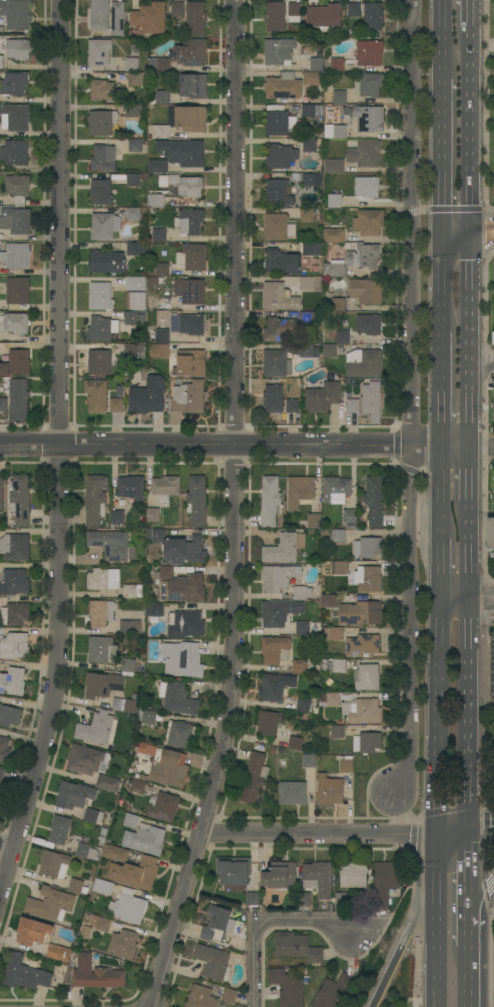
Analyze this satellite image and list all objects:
building: (178, 9)
building: (354, 10)
building: (294, 12)
road: (473, 13)
building: (16, 14)
building: (99, 14)
building: (275, 16)
building: (373, 16)
building: (324, 17)
building: (150, 18)
building: (195, 18)
building: (117, 19)
road: (444, 39)
building: (18, 49)
building: (278, 51)
building: (99, 52)
building: (190, 53)
building: (369, 53)
building: (2, 63)
building: (131, 64)
building: (317, 64)
building: (163, 65)
building: (337, 65)
building: (134, 79)
building: (313, 79)
building: (14, 84)
building: (369, 85)
building: (193, 86)
building: (283, 86)
building: (102, 90)
building: (162, 97)
building: (339, 97)
building: (132, 110)
building: (308, 111)
building: (15, 117)
building: (191, 119)
building: (369, 119)
building: (102, 123)
building: (279, 123)
road: (473, 123)
building: (335, 131)
building: (160, 132)
building: (136, 145)
building: (309, 145)
road: (443, 150)
building: (14, 152)
building: (182, 152)
building: (365, 154)
building: (281, 156)
building: (103, 158)
building: (158, 166)
building: (334, 166)
building: (133, 180)
building: (312, 180)
building: (182, 185)
building: (367, 187)
building: (17, 188)
building: (101, 192)
building: (278, 193)
building: (156, 200)
building: (334, 201)
building: (133, 214)
building: (306, 215)
building: (16, 221)
road: (458, 221)
road: (483, 221)
building: (189, 222)
building: (369, 222)
building: (105, 226)
building: (278, 228)
road: (443, 230)
road: (473, 231)
building: (158, 235)
building: (334, 235)
road: (458, 240)
road: (483, 241)
building: (136, 249)
building: (312, 249)
building: (15, 256)
building: (191, 258)
building: (353, 260)
building: (107, 262)
building: (281, 262)
building: (162, 270)
building: (136, 283)
building: (306, 283)
road: (443, 286)
building: (18, 291)
building: (190, 291)
building: (366, 291)
building: (100, 296)
building: (278, 297)
building: (136, 301)
building: (160, 304)
building: (338, 305)
building: (134, 318)
building: (307, 318)
building: (16, 323)
building: (175, 323)
building: (368, 324)
building: (192, 325)
building: (102, 329)
building: (279, 329)
building: (162, 336)
building: (343, 338)
building: (493, 338)
road: (472, 343)
building: (132, 350)
building: (159, 351)
building: (329, 351)
building: (285, 359)
road: (483, 360)
building: (100, 362)
building: (16, 363)
building: (190, 363)
building: (364, 363)
road: (443, 390)
building: (120, 391)
parking lot: (493, 391)
building: (96, 395)
building: (149, 396)
building: (322, 397)
road: (412, 397)
building: (188, 398)
building: (273, 399)
building: (18, 400)
building: (366, 401)
building: (3, 405)
building: (116, 405)
building: (292, 406)
road: (235, 446)
road: (483, 446)
road: (60, 452)
road: (472, 480)
building: (166, 486)
building: (131, 487)
building: (336, 490)
building: (300, 491)
building: (1, 493)
road: (442, 493)
building: (20, 500)
building: (95, 500)
building: (196, 501)
building: (270, 501)
building: (374, 501)
road: (233, 508)
road: (483, 513)
building: (152, 515)
building: (116, 518)
building: (350, 518)
building: (314, 520)
building: (156, 535)
building: (490, 535)
building: (338, 536)
building: (352, 536)
building: (110, 544)
building: (15, 547)
building: (367, 547)
building: (284, 548)
building: (184, 551)
road: (471, 556)
building: (341, 568)
road: (442, 569)
building: (166, 572)
building: (278, 577)
building: (103, 579)
building: (368, 579)
building: (16, 582)
building: (183, 588)
building: (132, 591)
building: (302, 593)
road: (468, 599)
building: (155, 609)
building: (353, 611)
building: (279, 612)
building: (101, 613)
building: (15, 614)
building: (134, 614)
building: (190, 624)
building: (130, 628)
building: (302, 628)
building: (333, 634)
building: (14, 646)
building: (362, 646)
building: (273, 649)
building: (102, 650)
building: (182, 659)
building: (338, 665)
building: (127, 667)
building: (299, 667)
building: (324, 667)
building: (366, 677)
building: (12, 681)
building: (102, 685)
building: (276, 687)
building: (177, 699)
building: (330, 699)
building: (303, 706)
building: (130, 707)
building: (362, 711)
building: (8, 715)
road: (468, 715)
building: (148, 717)
road: (438, 717)
building: (268, 723)
building: (95, 728)
building: (337, 732)
building: (280, 734)
building: (180, 735)
building: (285, 742)
building: (274, 743)
building: (295, 743)
building: (367, 743)
building: (143, 749)
building: (4, 750)
building: (273, 751)
building: (87, 760)
building: (308, 761)
building: (346, 766)
building: (169, 768)
building: (2, 774)
building: (254, 777)
building: (108, 783)
building: (138, 784)
building: (329, 790)
building: (292, 793)
building: (74, 795)
building: (164, 807)
building: (93, 816)
building: (131, 821)
building: (59, 830)
road: (480, 831)
building: (104, 832)
traffic signals: (467, 832)
road: (451, 833)
road: (318, 835)
traffic signals: (436, 835)
building: (145, 841)
building: (102, 842)
road: (6, 849)
building: (86, 851)
building: (115, 853)
road: (435, 859)
building: (54, 864)
road: (468, 872)
building: (135, 873)
building: (234, 873)
building: (353, 875)
building: (279, 876)
building: (318, 877)
building: (385, 882)
road: (491, 882)
building: (77, 886)
building: (102, 887)
building: (252, 899)
building: (304, 899)
building: (341, 899)
road: (479, 899)
building: (50, 904)
road: (423, 904)
building: (128, 907)
building: (100, 923)
building: (217, 924)
road: (264, 925)
road: (469, 929)
building: (33, 932)
building: (124, 944)
road: (437, 946)
building: (297, 948)
building: (58, 953)
building: (212, 961)
road: (391, 965)
building: (24, 974)
building: (96, 975)
road: (469, 976)
building: (287, 987)
building: (334, 992)
building: (229, 996)
building: (201, 997)

